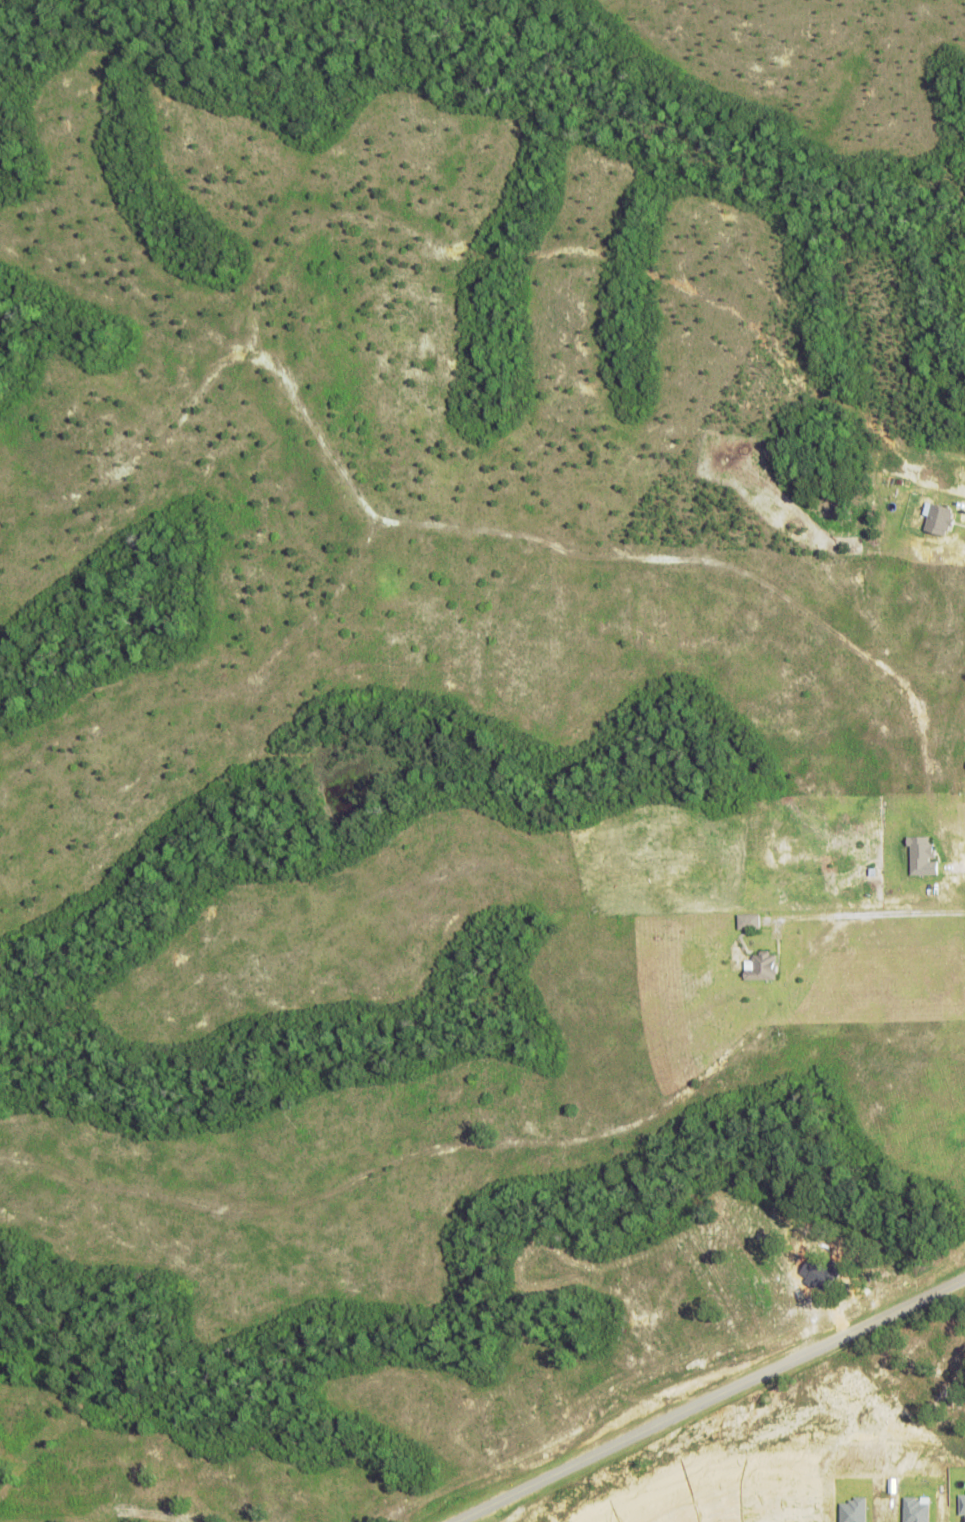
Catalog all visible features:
building: (936, 517)
building: (919, 856)
building: (747, 920)
building: (760, 966)
road: (710, 1398)
building: (961, 1505)

